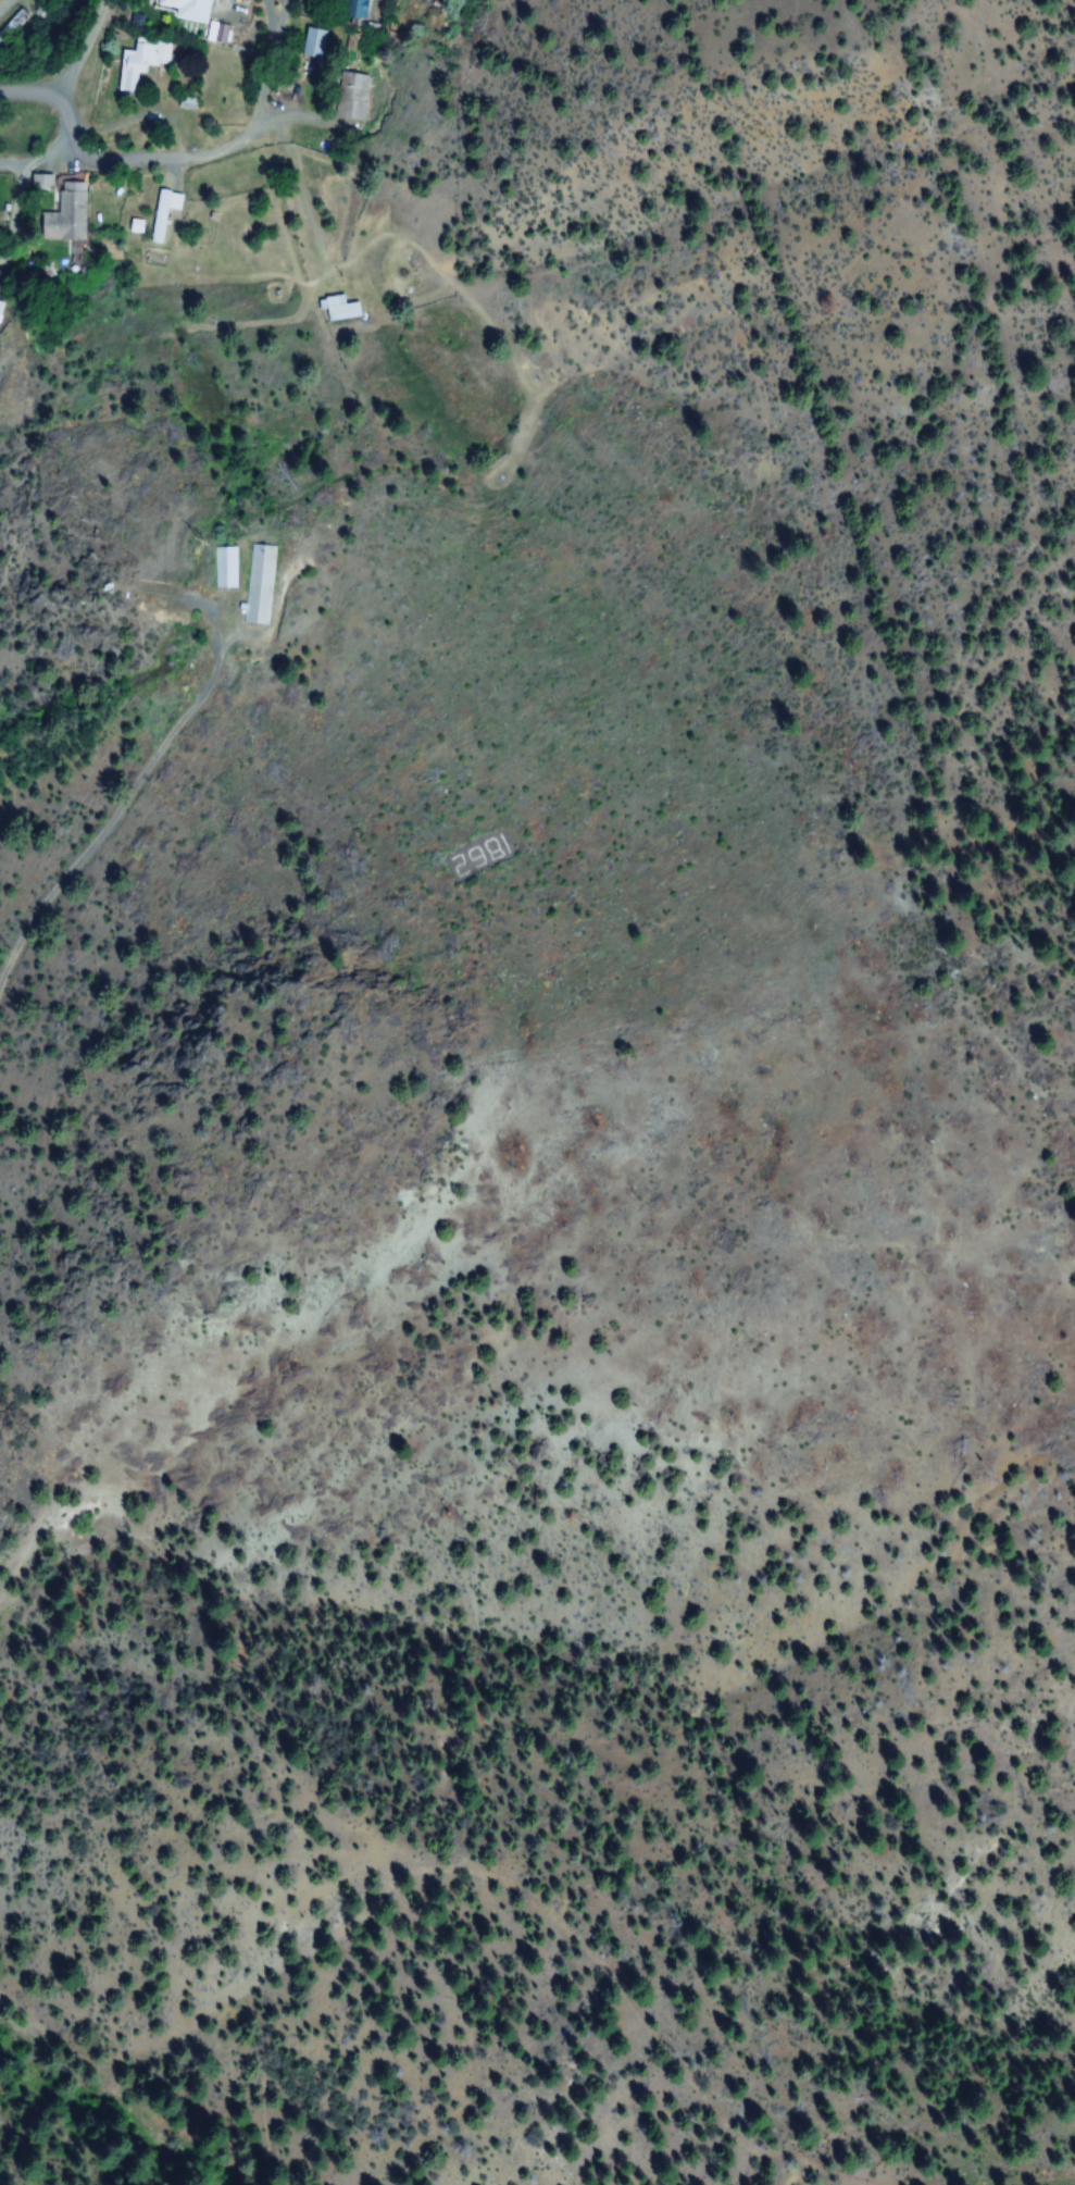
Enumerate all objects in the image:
road: (7, 9)
building: (176, 9)
building: (13, 25)
road: (82, 47)
building: (135, 58)
road: (278, 66)
road: (26, 89)
road: (48, 156)
road: (139, 157)
building: (59, 211)
building: (155, 214)
building: (337, 310)
building: (226, 568)
building: (257, 584)
road: (130, 854)

